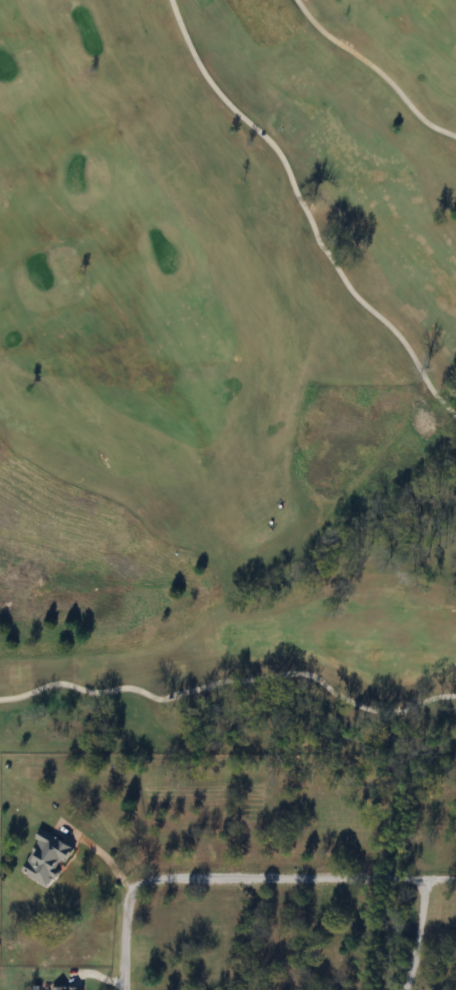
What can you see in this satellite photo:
road: (241, 877)
road: (416, 934)

